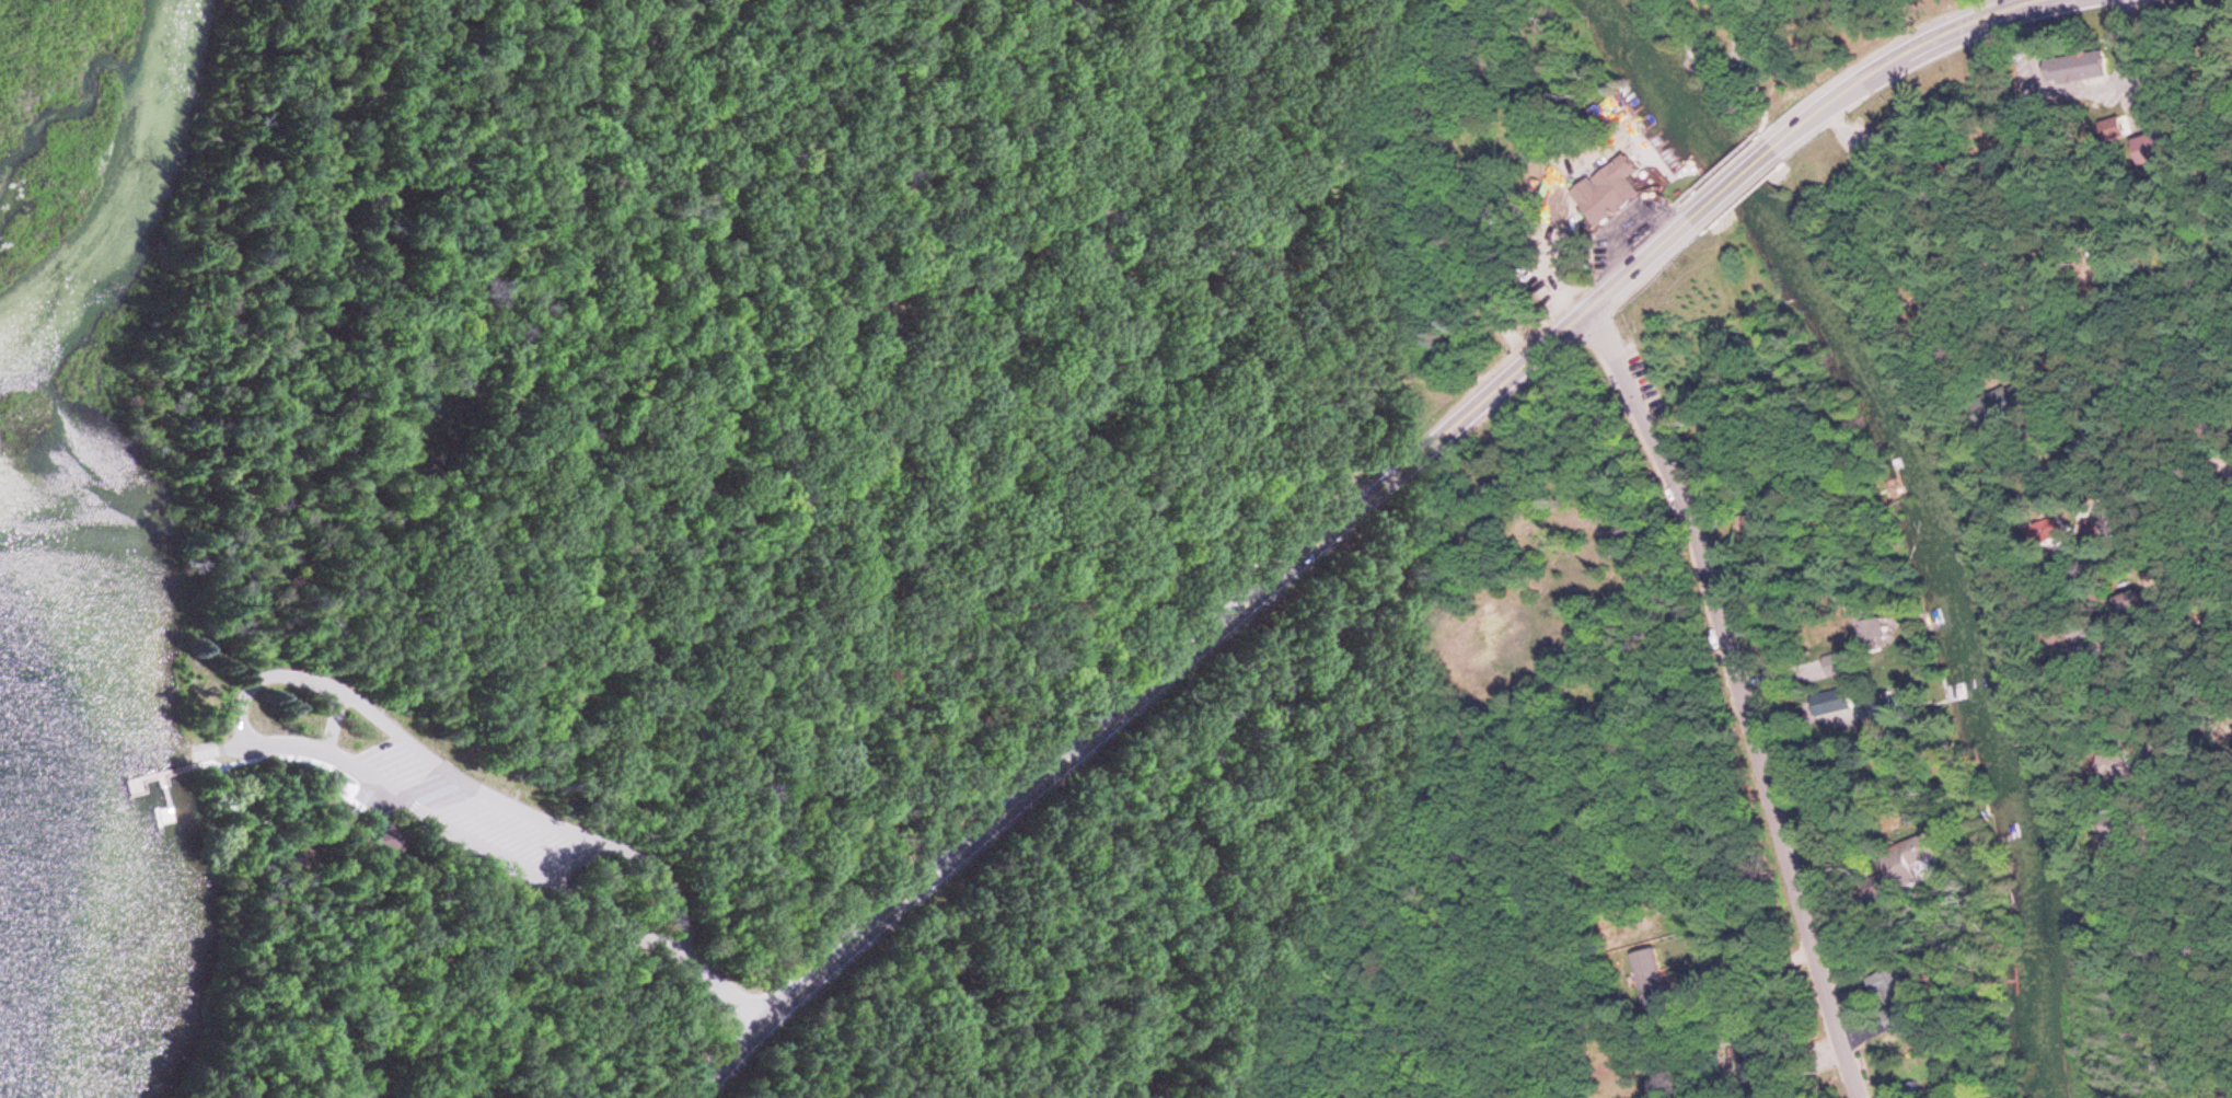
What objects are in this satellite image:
building: (1447, 1)
road: (2035, 2)
road: (1676, 31)
building: (1348, 35)
building: (1322, 43)
road: (1906, 56)
building: (2079, 62)
road: (1747, 67)
parking lot: (2081, 81)
road: (2085, 90)
road: (1647, 149)
road: (1718, 166)
road: (1731, 183)
building: (1353, 187)
building: (1608, 187)
building: (1307, 194)
river: (131, 199)
road: (895, 210)
road: (1667, 211)
road: (1422, 219)
road: (1619, 221)
building: (1284, 224)
parking lot: (1627, 231)
parking lot: (1547, 243)
road: (2026, 294)
road: (2220, 438)
river: (1930, 508)
building: (1873, 636)
road: (1191, 656)
road: (1746, 694)
road: (331, 724)
road: (215, 752)
road: (300, 761)
pier: (175, 773)
road: (456, 781)
road: (378, 804)
parking lot: (469, 813)
road: (461, 839)
building: (392, 842)
building: (294, 857)
road: (2214, 917)
road: (717, 993)

